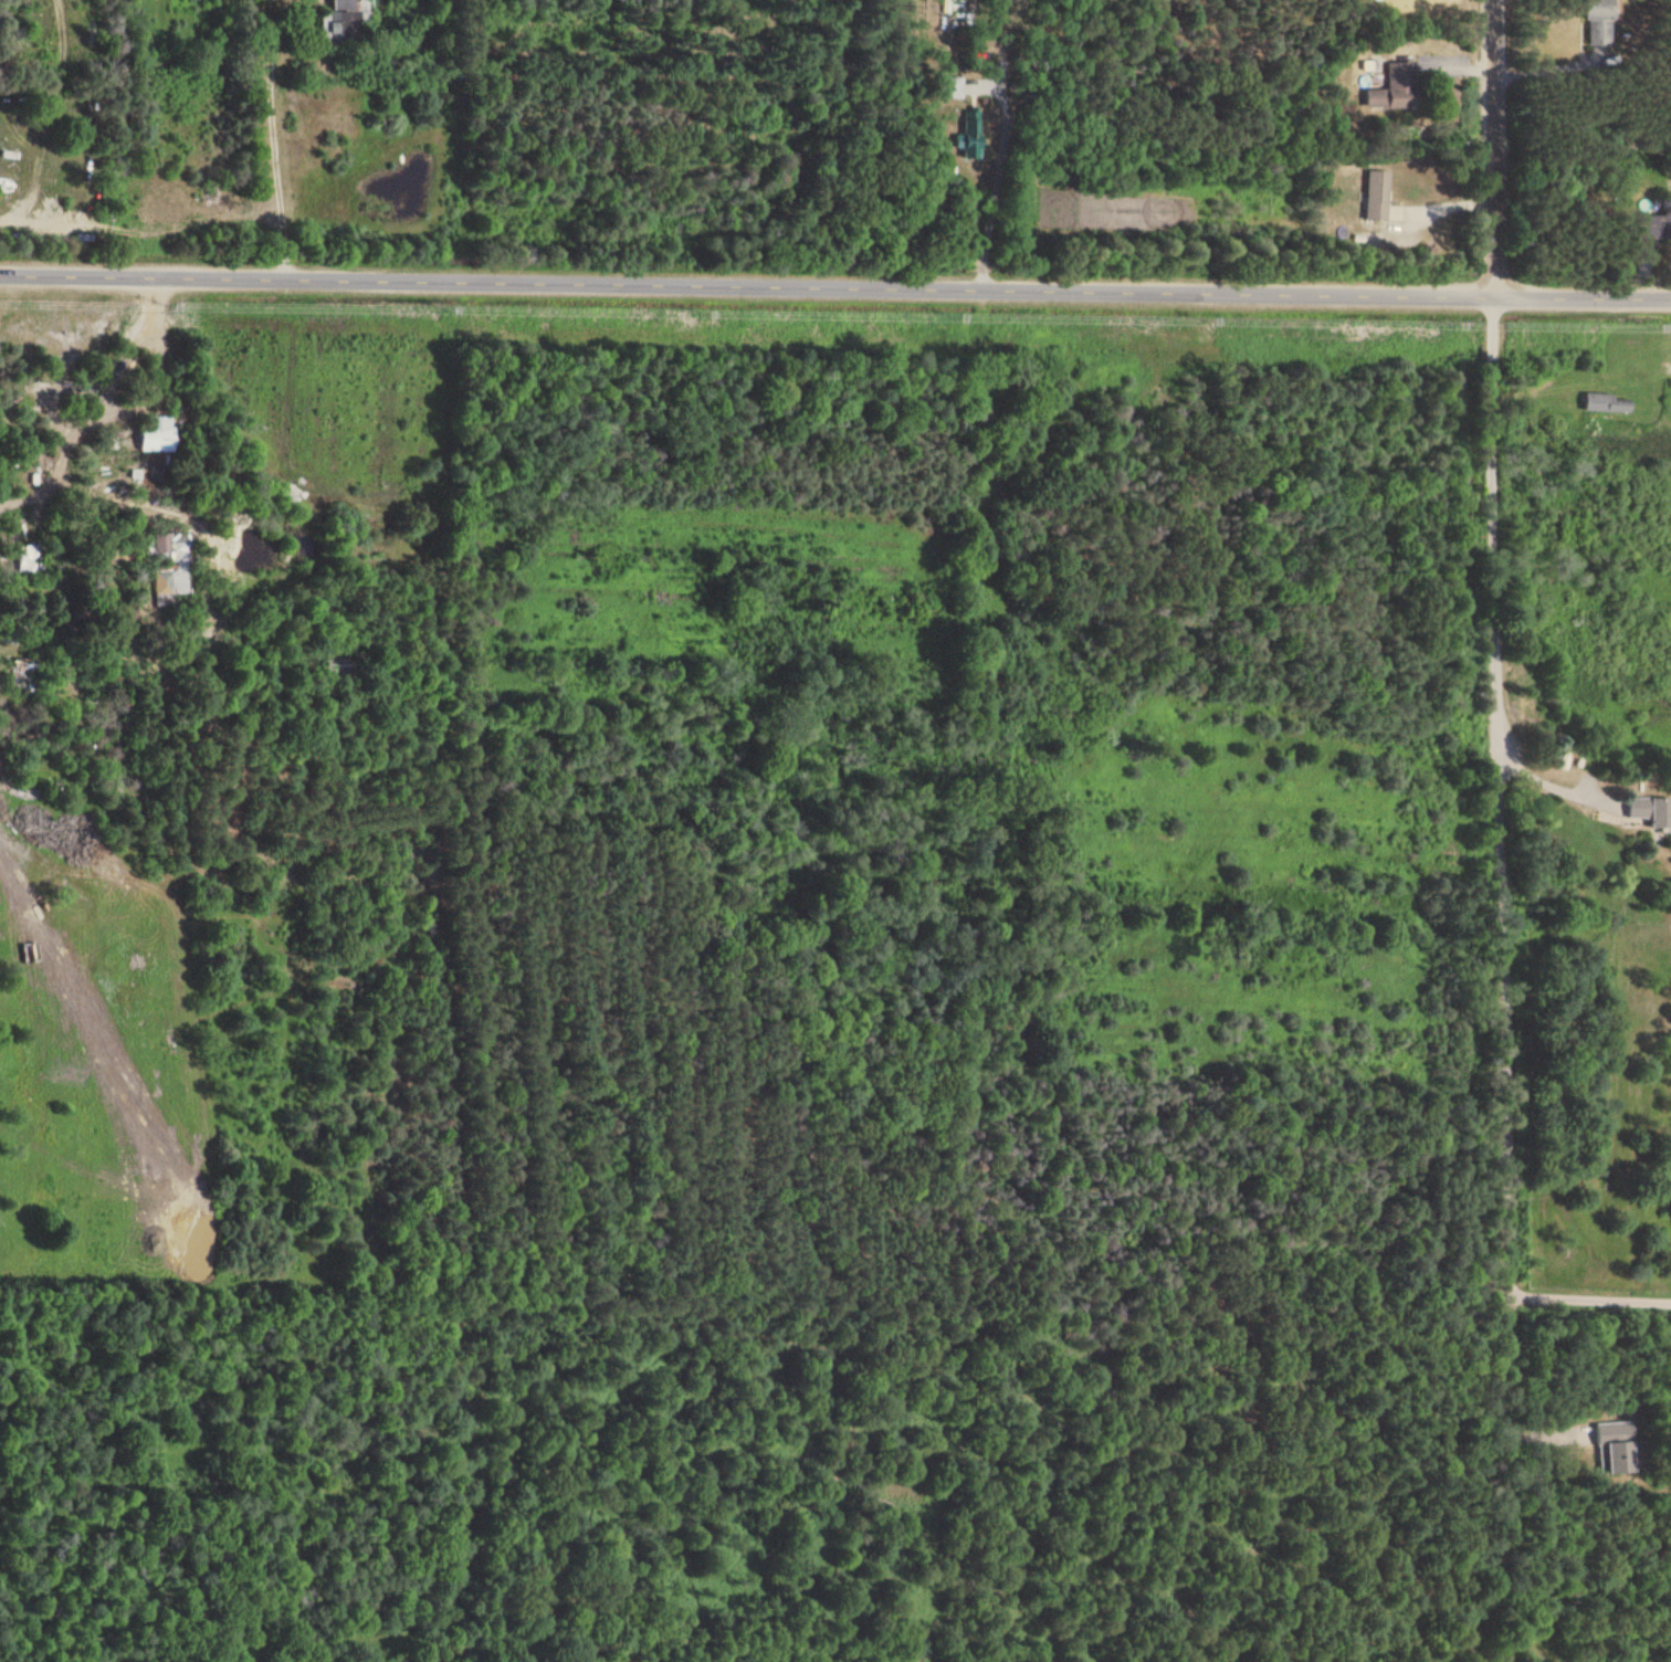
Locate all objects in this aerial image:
building: (1595, 21)
building: (336, 22)
building: (948, 86)
building: (1390, 87)
building: (966, 135)
road: (1489, 145)
road: (271, 151)
road: (995, 182)
building: (1374, 193)
building: (1364, 238)
road: (835, 283)
building: (1602, 402)
road: (114, 419)
building: (153, 433)
building: (25, 559)
building: (168, 564)
road: (1552, 785)
road: (1500, 790)
building: (1648, 810)
road: (1589, 1294)
road: (1500, 1395)
building: (1610, 1448)

